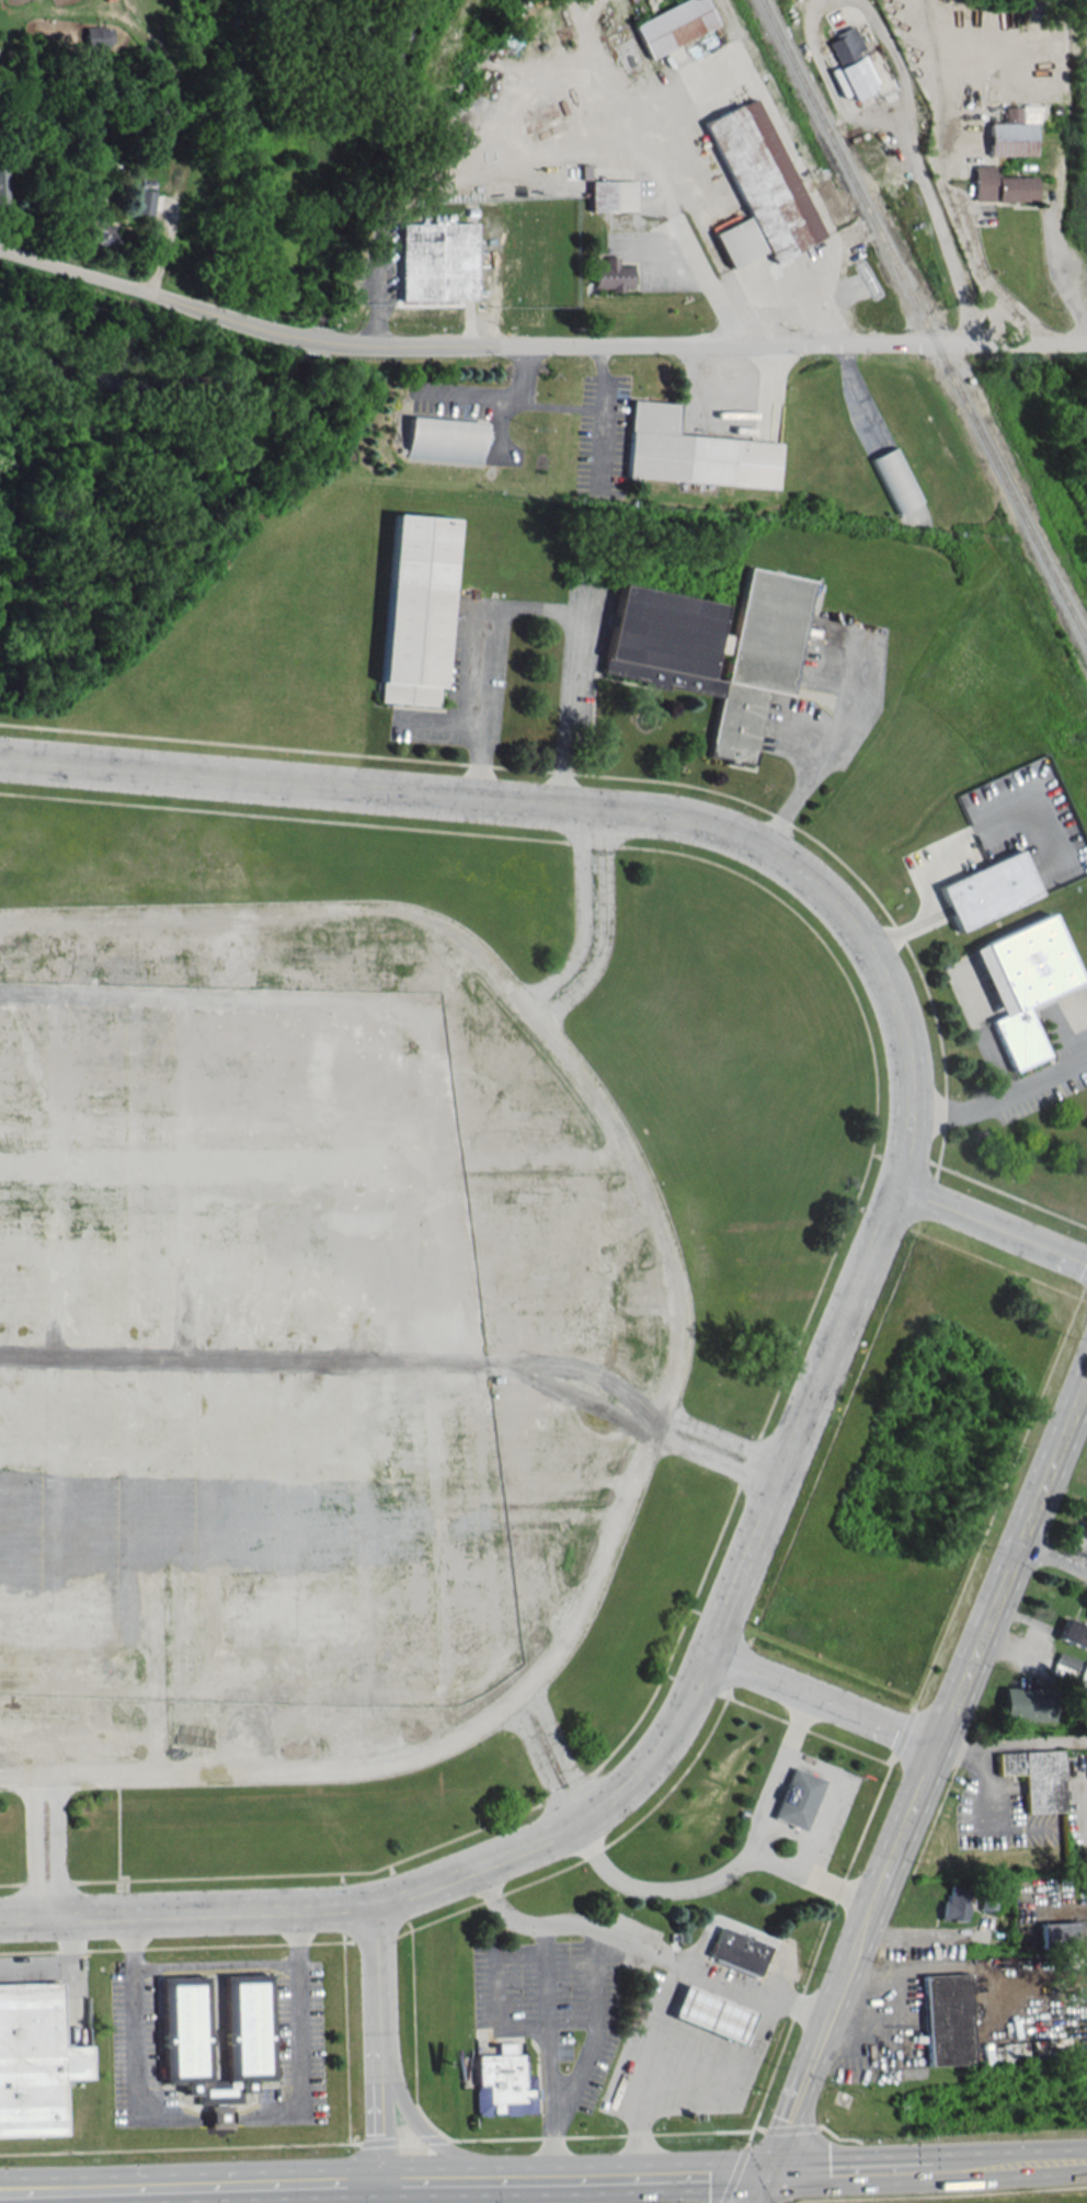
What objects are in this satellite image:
building: (673, 24)
building: (99, 36)
building: (844, 43)
road: (892, 53)
building: (857, 77)
road: (827, 79)
building: (1010, 134)
road: (179, 148)
building: (2, 185)
building: (1000, 185)
building: (758, 187)
building: (613, 195)
road: (665, 198)
building: (144, 201)
road: (938, 226)
building: (96, 231)
building: (438, 261)
road: (1056, 264)
building: (613, 275)
road: (986, 277)
road: (141, 292)
road: (794, 294)
railway: (925, 321)
road: (310, 339)
road: (712, 344)
building: (445, 440)
building: (695, 450)
building: (895, 478)
road: (531, 605)
building: (412, 608)
building: (711, 648)
road: (829, 744)
road: (397, 792)
building: (1004, 883)
road: (580, 917)
road: (605, 929)
building: (1023, 983)
road: (999, 1093)
road: (992, 1224)
road: (679, 1336)
road: (725, 1436)
road: (790, 1450)
road: (717, 1458)
road: (1055, 1557)
road: (825, 1700)
road: (799, 1722)
road: (1027, 1742)
road: (558, 1749)
road: (539, 1765)
road: (982, 1776)
building: (1035, 1776)
road: (920, 1795)
building: (798, 1797)
road: (826, 1799)
road: (766, 1800)
road: (33, 1846)
road: (55, 1846)
road: (719, 1877)
road: (188, 1911)
building: (739, 1950)
road: (57, 1967)
road: (713, 1975)
road: (495, 1988)
road: (594, 2001)
road: (549, 2005)
building: (946, 2018)
building: (248, 2027)
road: (302, 2039)
road: (130, 2042)
road: (381, 2042)
building: (32, 2059)
road: (649, 2066)
road: (732, 2069)
road: (219, 2116)
road: (425, 2130)
road: (927, 2166)
traffic signals: (767, 2173)
road: (382, 2181)

